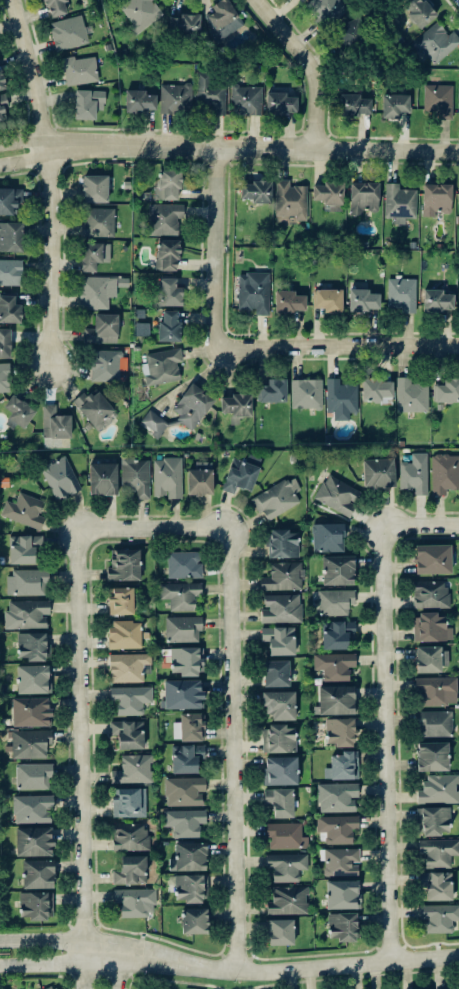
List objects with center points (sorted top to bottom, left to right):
building: (394, 0)
building: (299, 1)
building: (55, 7)
building: (327, 11)
building: (418, 11)
building: (140, 12)
building: (222, 18)
building: (185, 24)
building: (68, 32)
building: (352, 32)
building: (435, 42)
road: (314, 64)
building: (80, 69)
building: (1, 82)
building: (210, 94)
building: (175, 97)
building: (246, 99)
building: (438, 99)
building: (140, 101)
building: (88, 103)
building: (280, 103)
building: (394, 104)
building: (2, 105)
building: (353, 105)
road: (229, 147)
road: (56, 181)
building: (168, 184)
building: (94, 188)
building: (256, 190)
building: (328, 192)
building: (458, 193)
building: (363, 196)
building: (436, 198)
building: (9, 199)
building: (290, 199)
building: (399, 202)
building: (332, 207)
building: (164, 218)
building: (97, 221)
building: (11, 235)
road: (221, 244)
building: (167, 253)
building: (94, 254)
building: (10, 271)
building: (96, 291)
building: (168, 292)
building: (253, 292)
building: (401, 294)
building: (328, 299)
building: (362, 299)
building: (437, 300)
building: (289, 301)
building: (9, 309)
building: (168, 326)
building: (142, 328)
building: (102, 329)
road: (341, 341)
building: (5, 342)
building: (106, 364)
building: (161, 366)
building: (4, 377)
building: (376, 389)
building: (272, 390)
building: (447, 390)
building: (306, 392)
building: (411, 394)
building: (340, 398)
building: (236, 404)
building: (192, 406)
building: (96, 408)
building: (18, 412)
building: (55, 422)
building: (153, 422)
building: (378, 472)
building: (444, 472)
building: (240, 473)
building: (414, 473)
building: (136, 476)
building: (167, 476)
building: (60, 477)
building: (102, 478)
building: (200, 478)
building: (337, 495)
building: (277, 497)
building: (25, 510)
road: (157, 522)
road: (423, 522)
building: (327, 536)
building: (283, 543)
building: (24, 548)
building: (432, 558)
building: (183, 563)
building: (124, 564)
building: (337, 569)
building: (283, 576)
building: (28, 581)
building: (430, 593)
building: (180, 594)
building: (120, 600)
building: (334, 601)
building: (281, 608)
building: (28, 613)
building: (431, 627)
building: (183, 628)
building: (337, 633)
building: (125, 634)
building: (279, 639)
building: (32, 645)
building: (431, 658)
building: (185, 660)
building: (334, 665)
building: (128, 666)
building: (276, 672)
building: (33, 678)
building: (436, 690)
building: (183, 694)
building: (130, 698)
building: (336, 699)
building: (279, 704)
building: (30, 711)
building: (434, 723)
building: (188, 726)
building: (340, 731)
building: (128, 733)
building: (279, 737)
road: (390, 741)
building: (30, 743)
road: (237, 744)
road: (83, 746)
building: (432, 755)
building: (187, 758)
building: (342, 765)
building: (133, 769)
building: (280, 770)
building: (33, 775)
building: (439, 788)
building: (184, 790)
building: (337, 796)
building: (128, 801)
building: (280, 801)
building: (32, 808)
building: (432, 820)
building: (184, 821)
building: (337, 828)
building: (285, 835)
building: (130, 836)
building: (33, 841)
building: (437, 851)
building: (189, 856)
building: (341, 861)
building: (286, 866)
building: (131, 870)
building: (37, 873)
building: (436, 885)
building: (189, 887)
building: (342, 893)
building: (288, 900)
building: (136, 901)
building: (33, 905)
building: (439, 916)
building: (194, 920)
building: (342, 926)
building: (280, 931)
road: (73, 941)
road: (301, 968)
road: (73, 970)
building: (51, 987)

